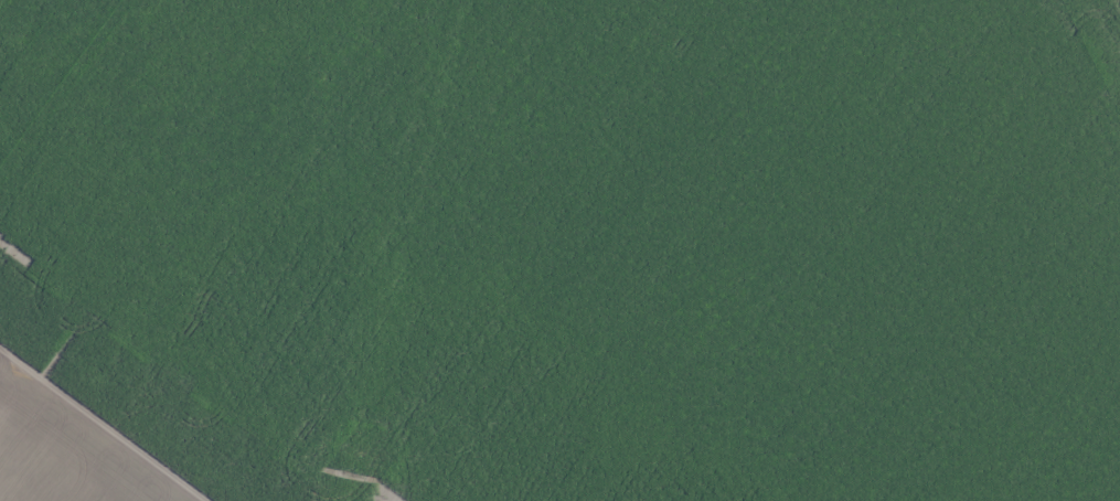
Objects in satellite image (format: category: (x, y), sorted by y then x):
crop: (559, 250)

